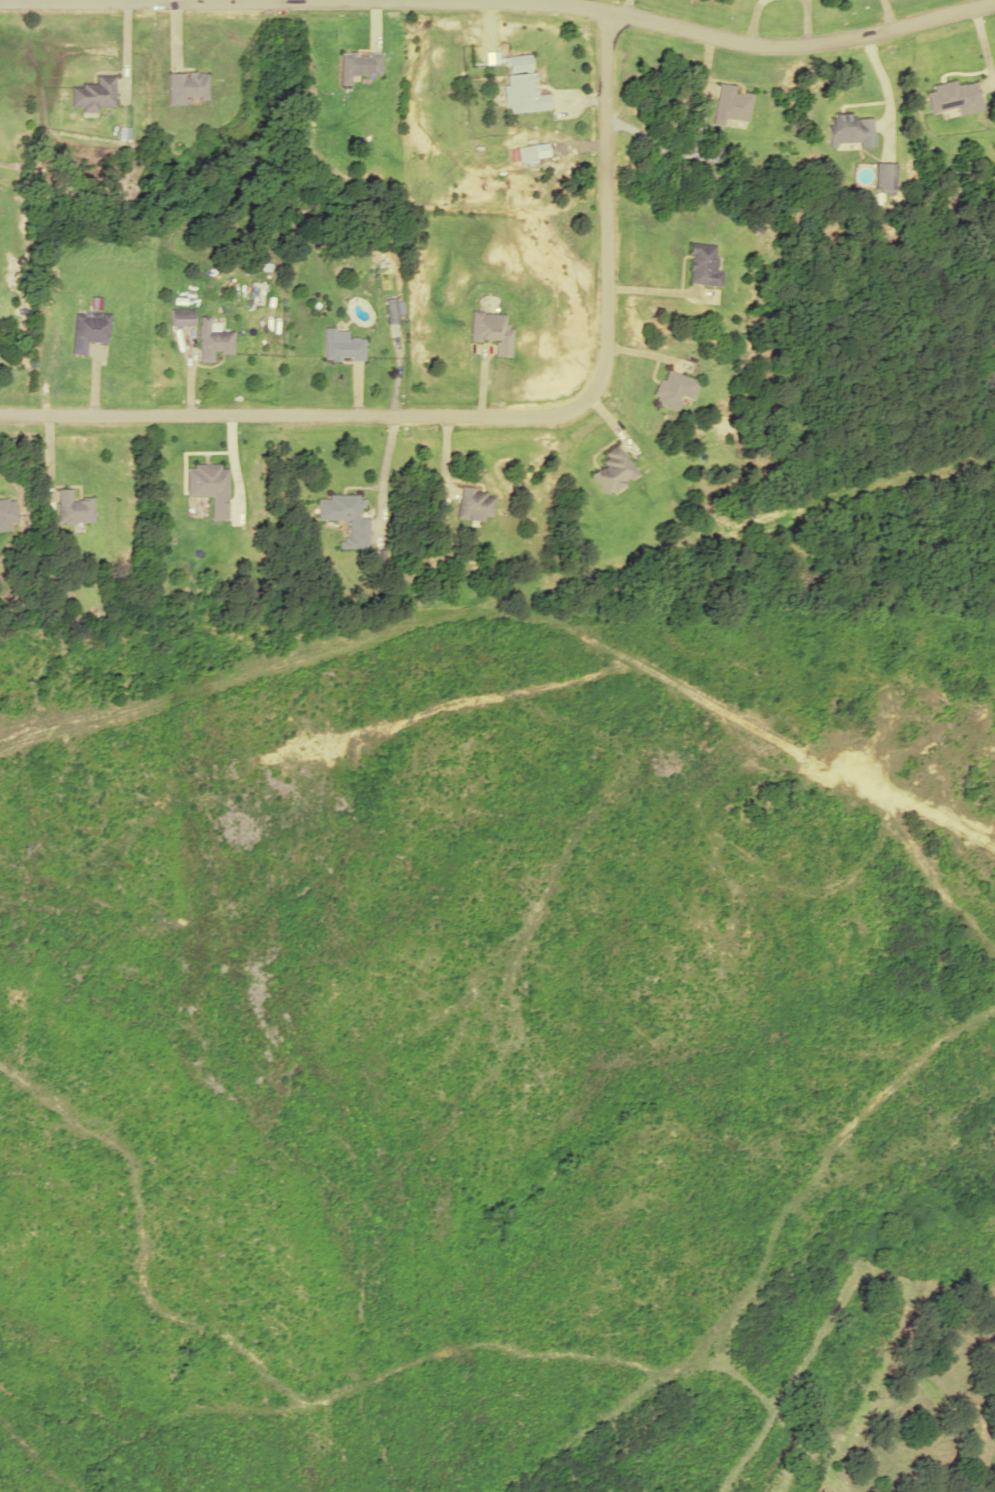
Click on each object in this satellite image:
road: (160, 3)
road: (750, 46)
building: (355, 64)
building: (522, 85)
building: (92, 94)
building: (952, 97)
building: (729, 104)
building: (847, 129)
building: (527, 155)
building: (881, 176)
building: (703, 265)
building: (392, 310)
building: (181, 317)
building: (87, 329)
building: (491, 330)
building: (211, 340)
building: (341, 345)
building: (672, 388)
road: (487, 415)
building: (613, 470)
building: (207, 486)
building: (473, 504)
building: (71, 508)
building: (6, 512)
building: (343, 517)

